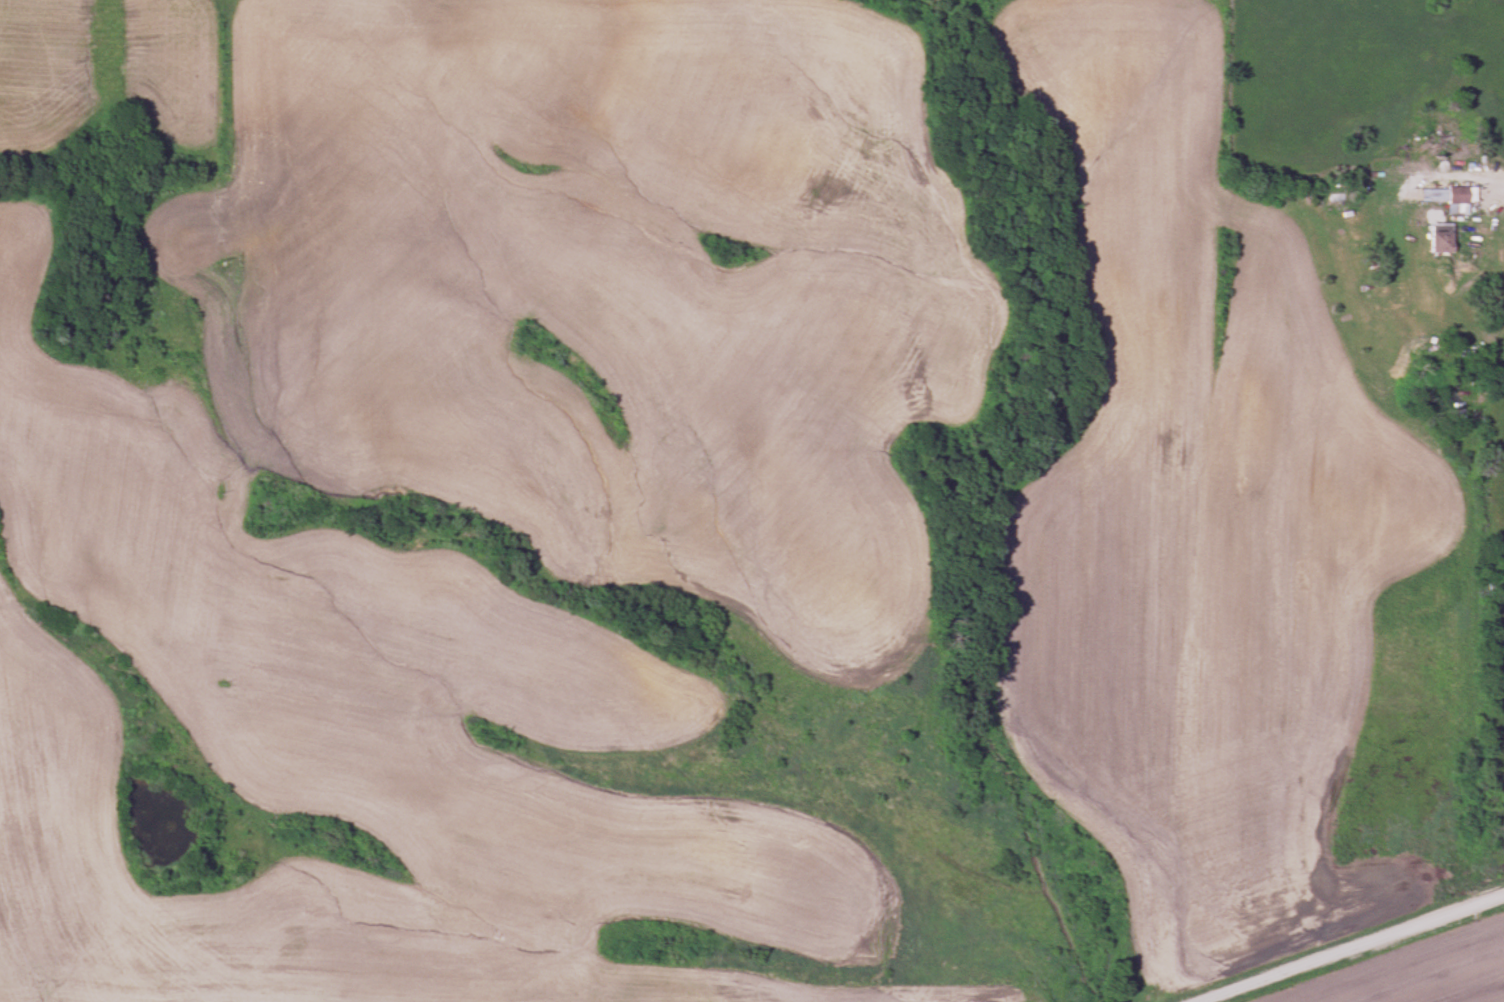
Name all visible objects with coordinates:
road: (1492, 194)
building: (1452, 205)
building: (1437, 240)
road: (1349, 947)

